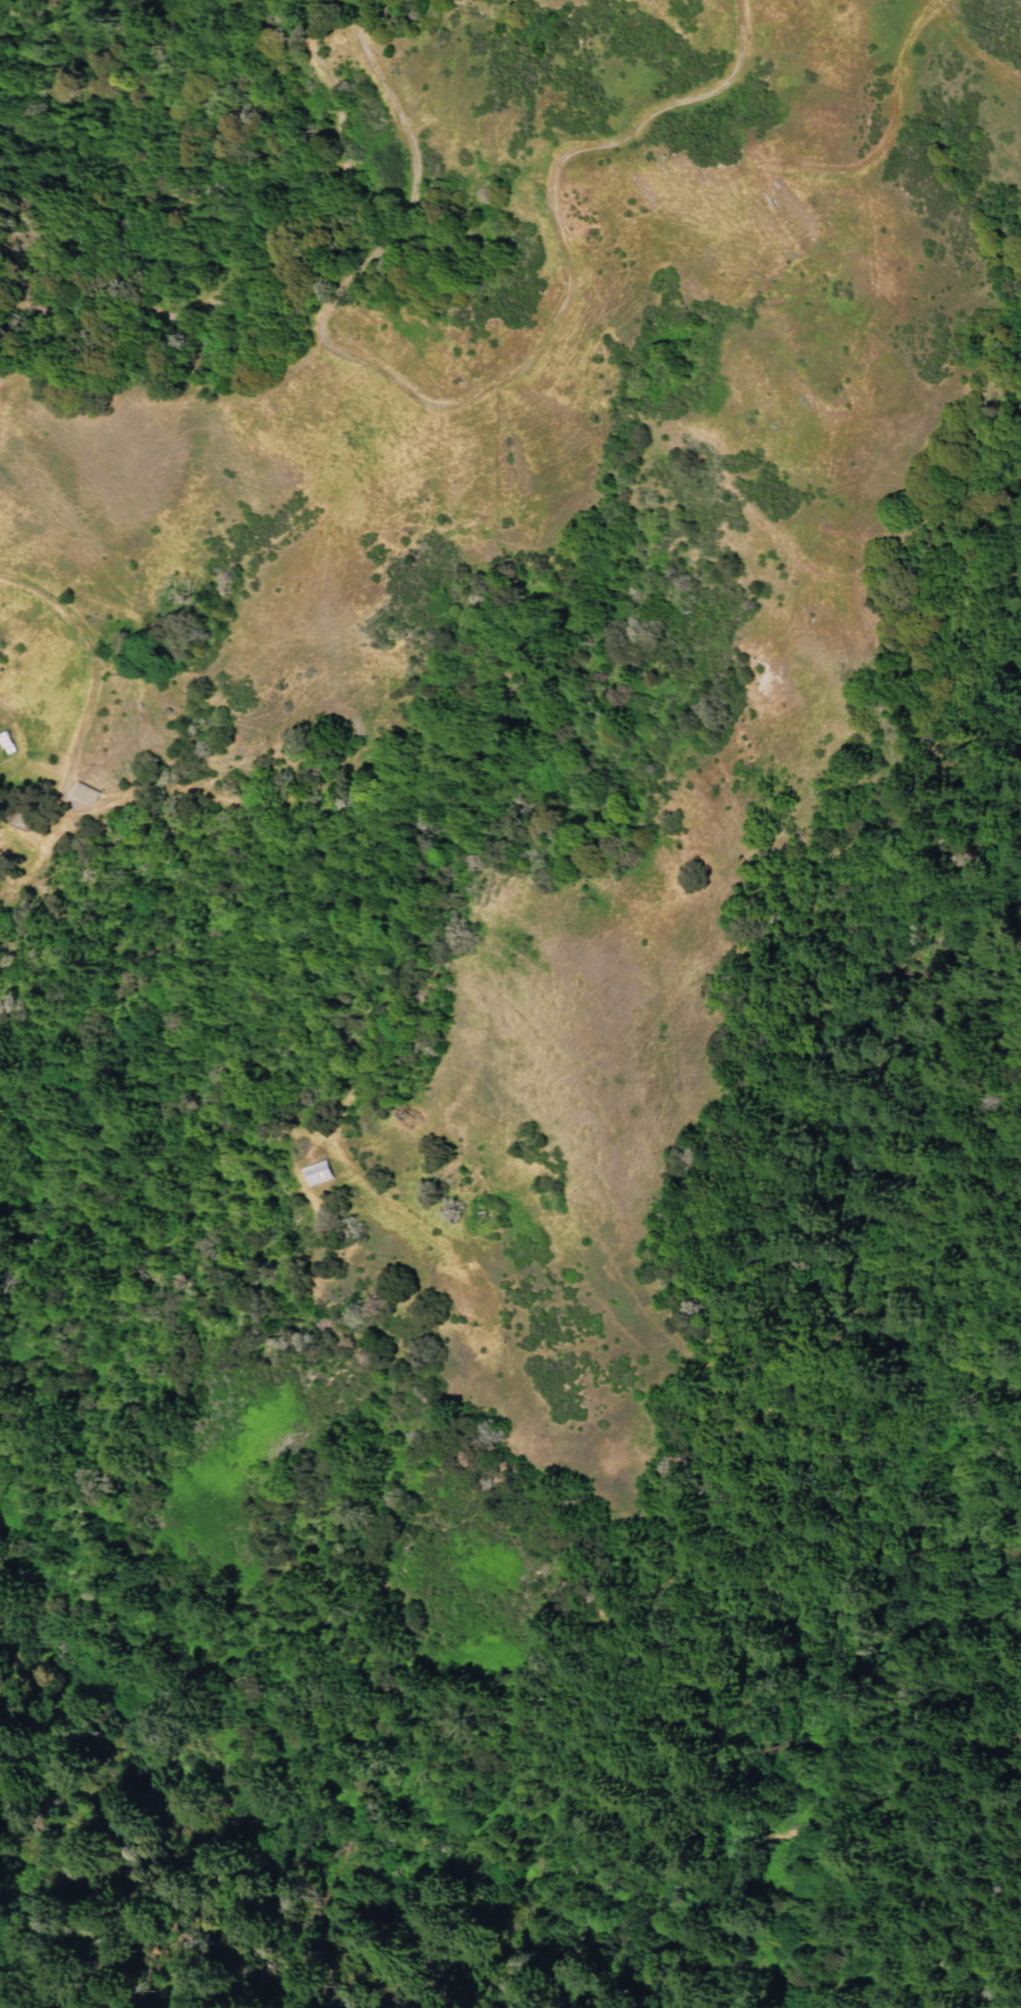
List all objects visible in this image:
road: (971, 49)
road: (361, 255)
road: (84, 660)
building: (3, 738)
building: (79, 791)
building: (313, 1168)

